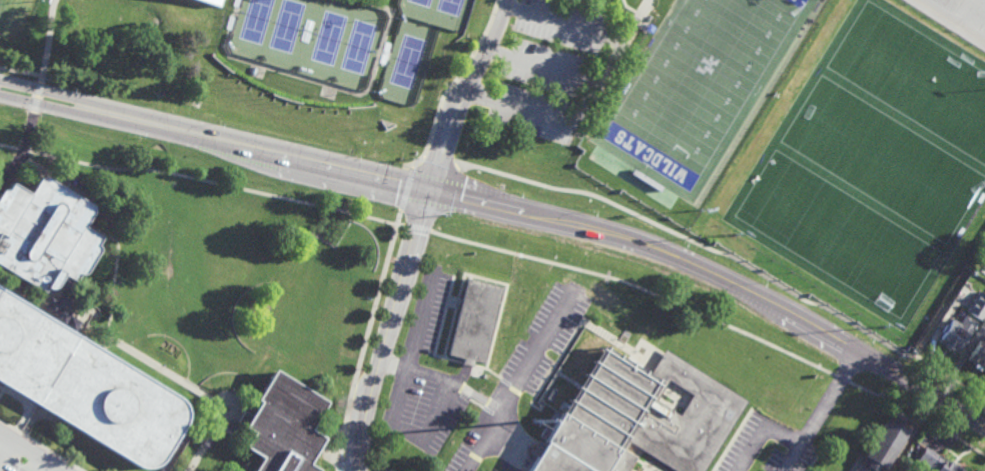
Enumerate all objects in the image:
building: (212, 2)
park: (421, 2)
road: (380, 3)
park: (449, 6)
road: (958, 15)
park: (14, 16)
parking lot: (958, 17)
park: (255, 20)
park: (286, 26)
park: (328, 38)
park: (358, 46)
road: (541, 59)
park: (408, 61)
parking lot: (553, 66)
road: (598, 71)
road: (20, 72)
park: (915, 77)
park: (699, 82)
road: (452, 83)
road: (327, 86)
road: (35, 97)
park: (883, 158)
road: (439, 162)
road: (406, 188)
traffic signals: (431, 188)
road: (457, 193)
road: (96, 229)
road: (417, 231)
road: (424, 231)
park: (838, 233)
building: (47, 235)
road: (732, 255)
building: (982, 269)
road: (489, 280)
building: (977, 305)
road: (442, 317)
building: (474, 320)
building: (956, 332)
road: (365, 338)
road: (114, 343)
building: (978, 354)
road: (444, 378)
road: (841, 379)
road: (519, 383)
building: (85, 384)
road: (1, 392)
road: (15, 397)
road: (398, 397)
road: (937, 397)
road: (39, 410)
road: (821, 410)
road: (919, 414)
road: (24, 418)
building: (639, 419)
building: (283, 426)
road: (761, 432)
road: (14, 436)
building: (887, 439)
road: (210, 441)
road: (732, 441)
road: (41, 446)
road: (6, 452)
road: (29, 452)
road: (177, 453)
parking lot: (26, 455)
building: (935, 461)
road: (42, 466)
building: (877, 469)

